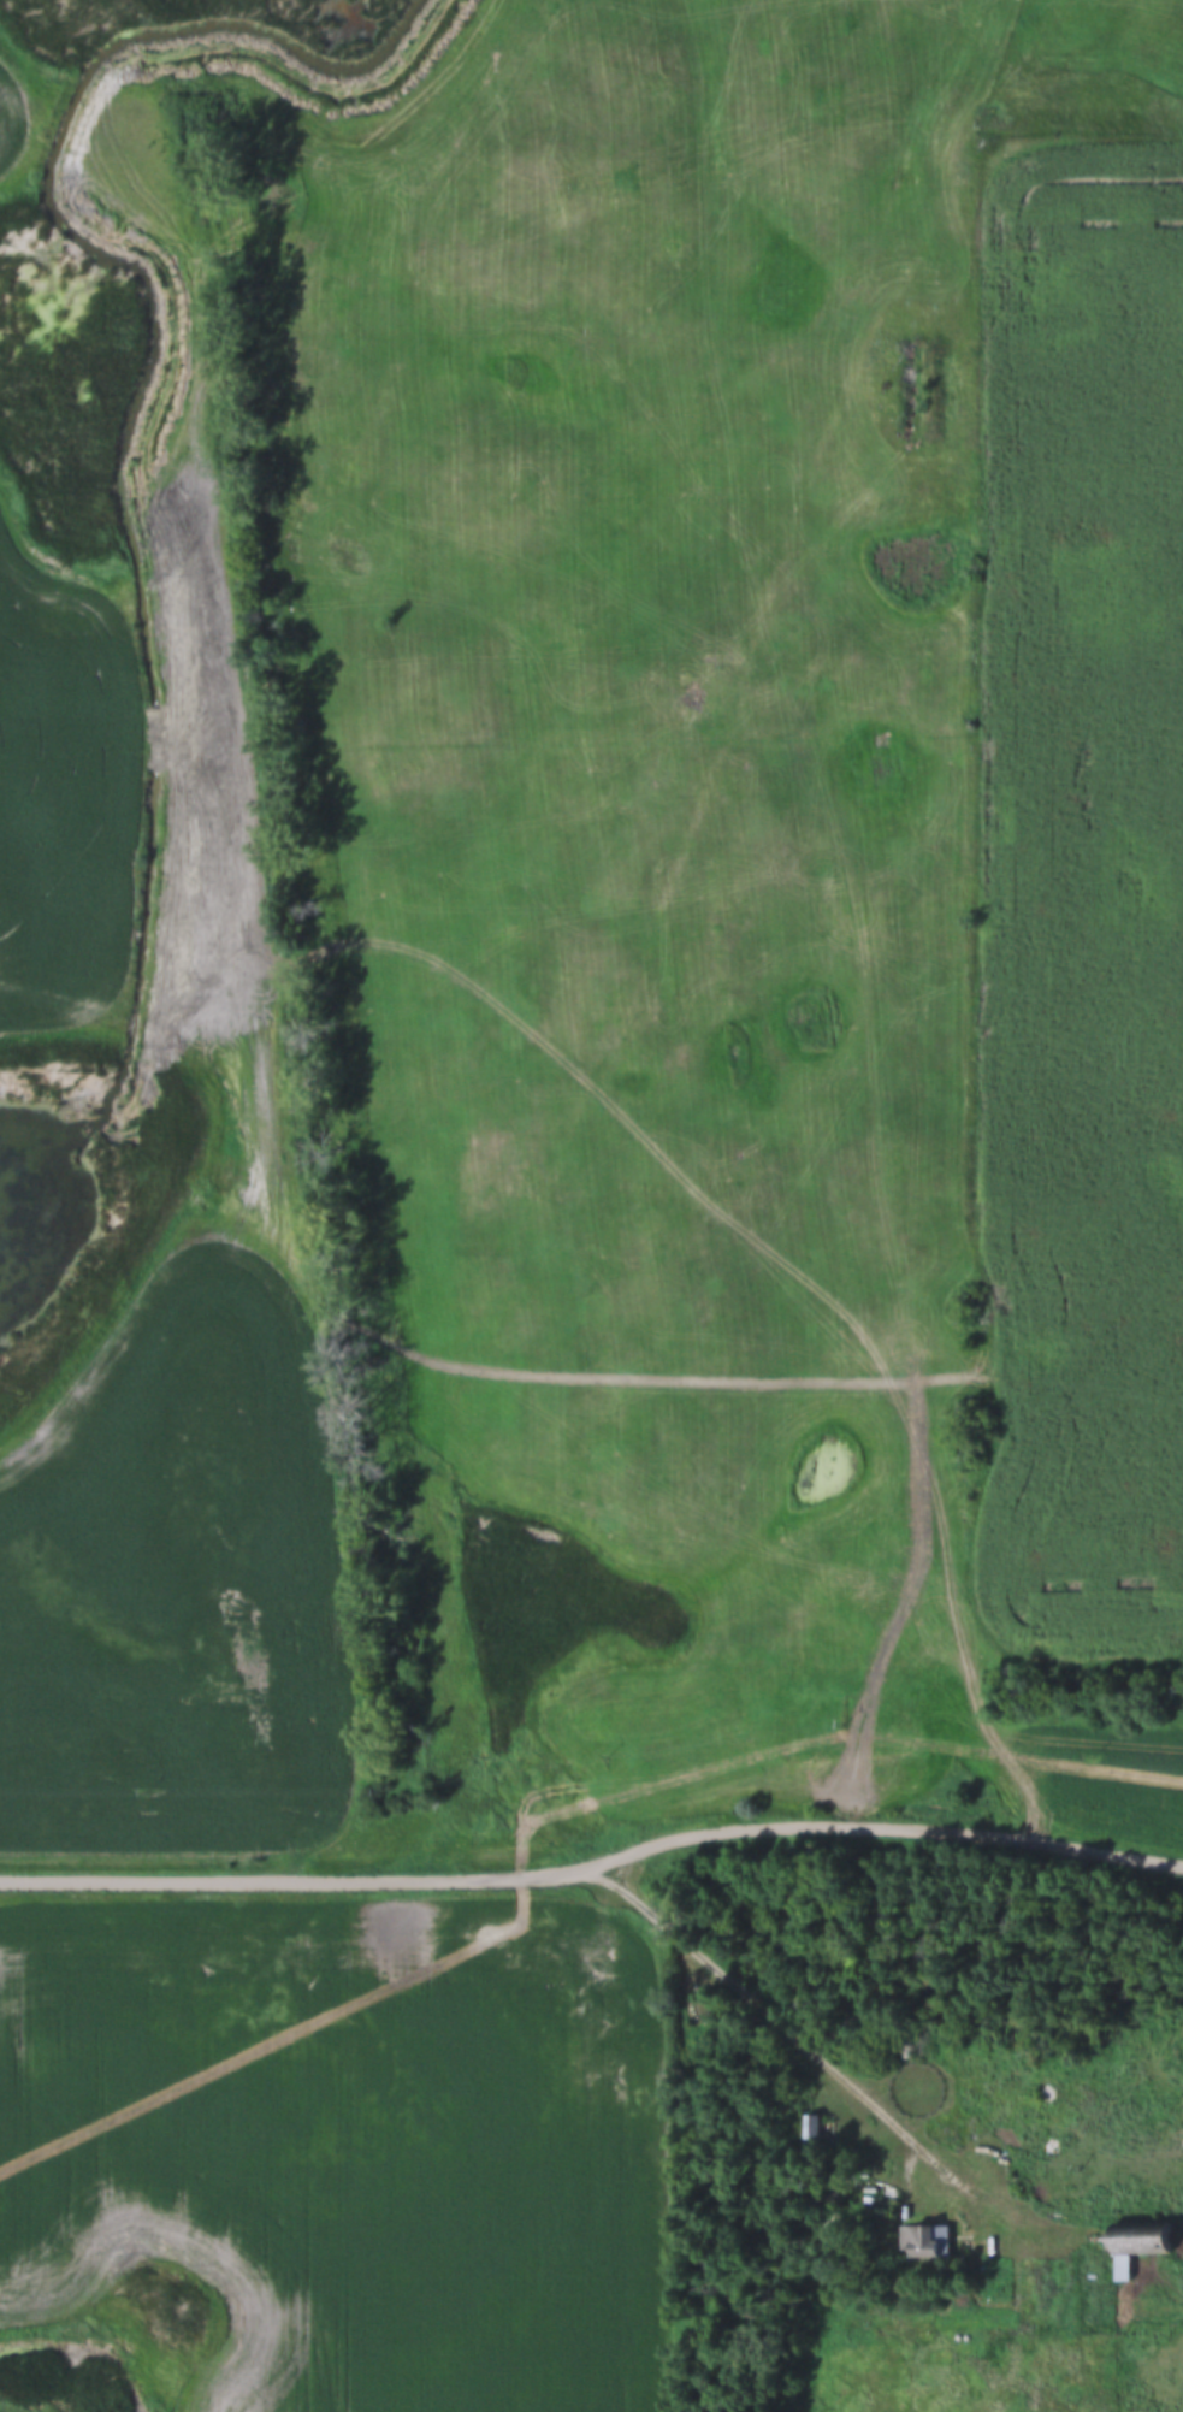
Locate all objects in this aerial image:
road: (595, 1862)
road: (803, 2042)
building: (988, 2133)
building: (929, 2245)
building: (1126, 2270)

